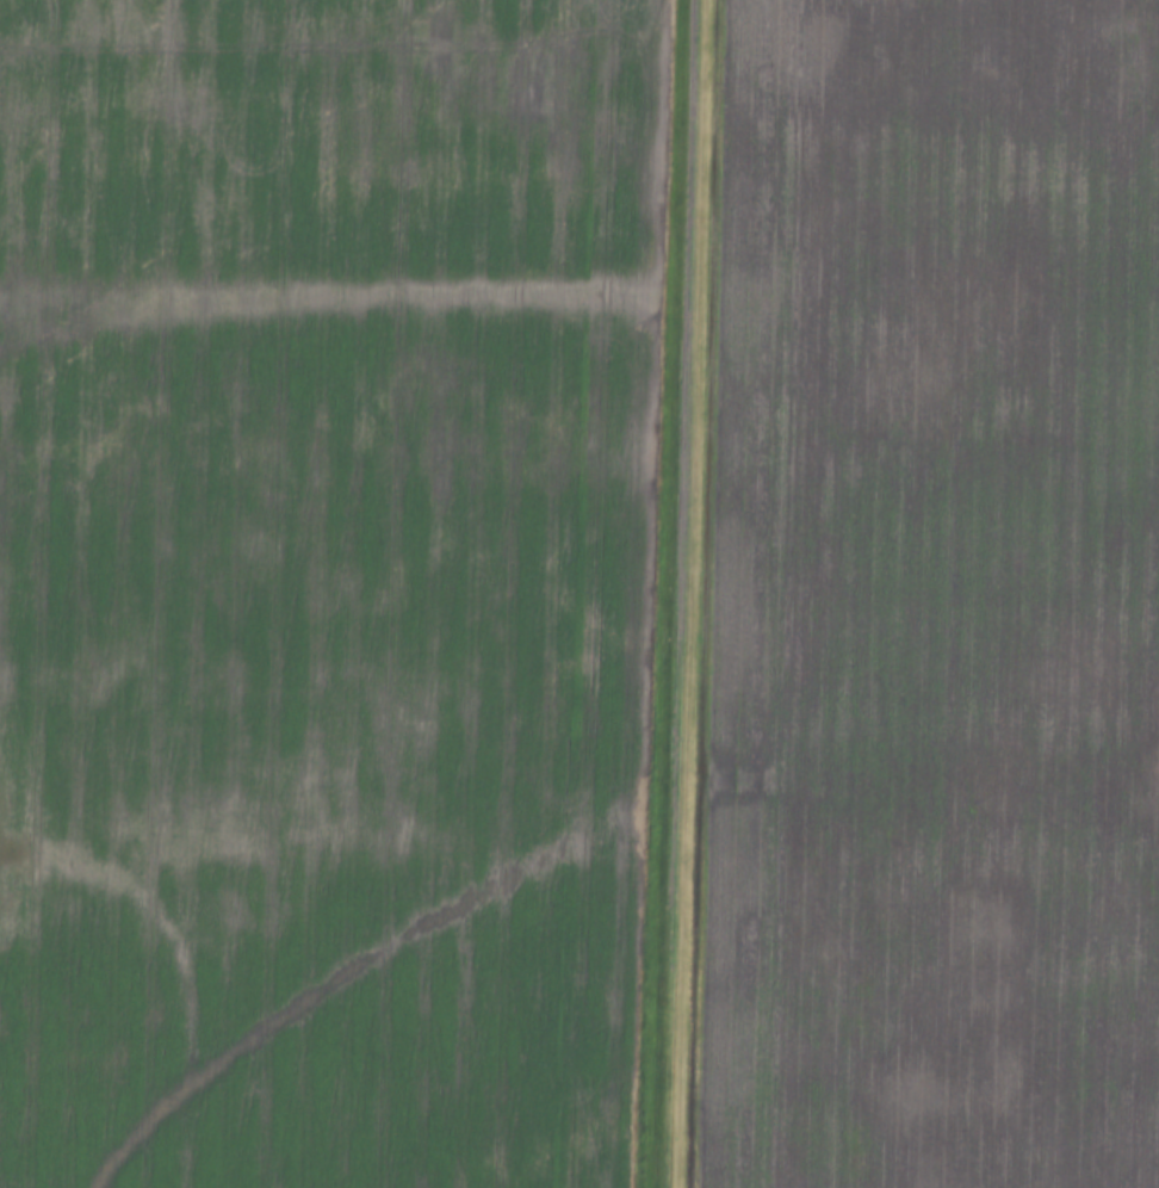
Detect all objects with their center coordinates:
crop: (322, 588)
road: (678, 594)
crop: (931, 599)

